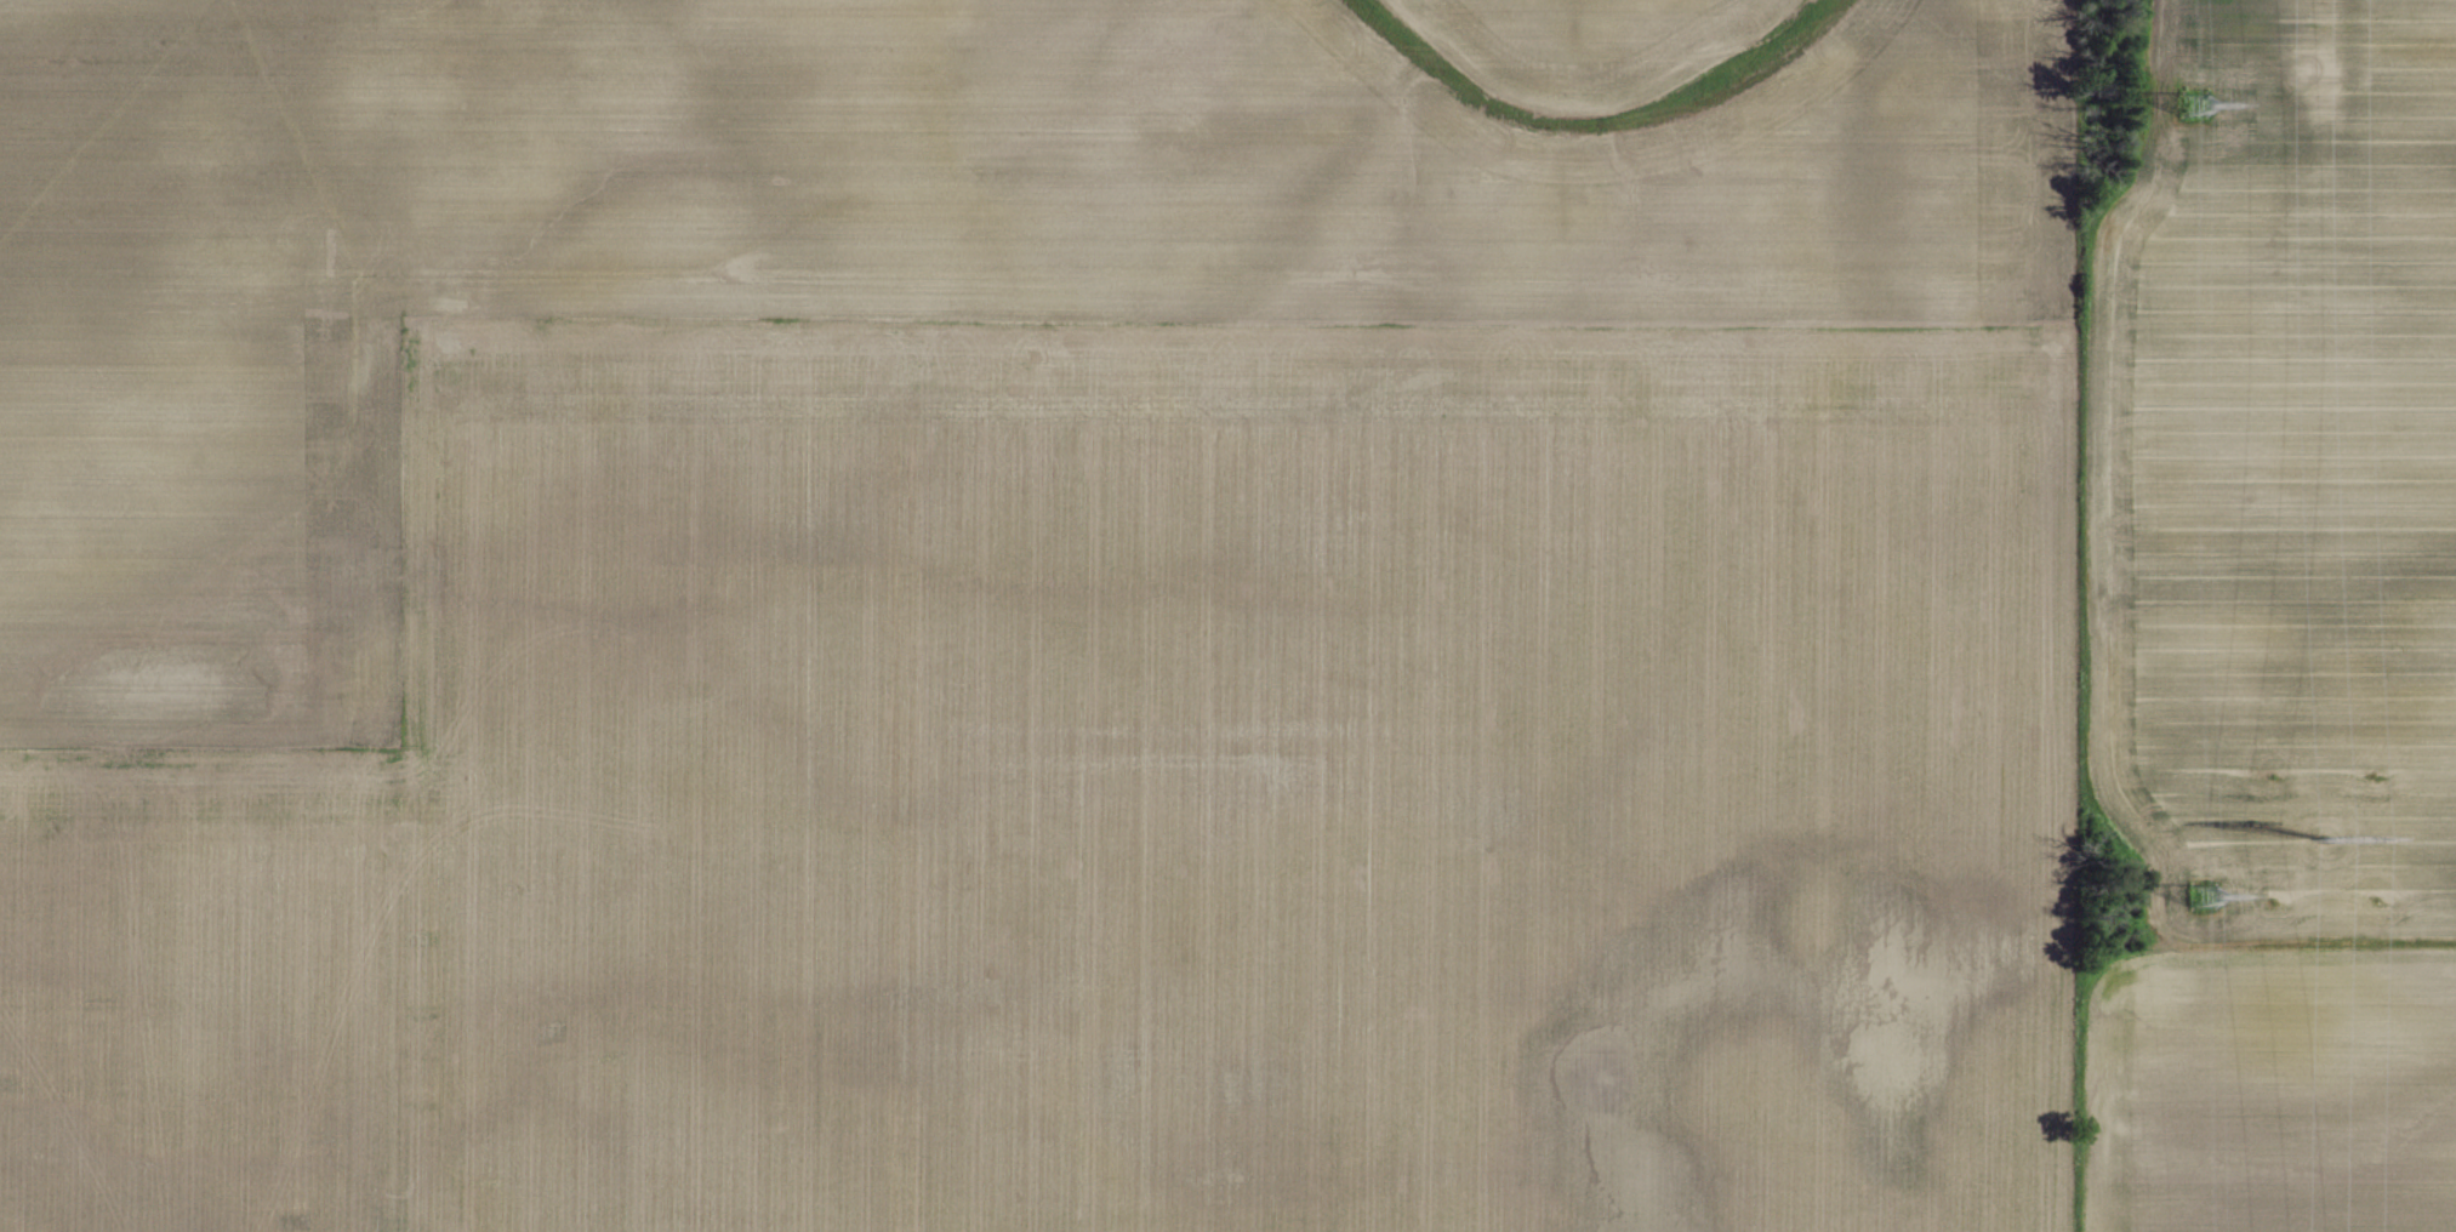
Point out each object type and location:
power tower: (2193, 103)
power tower: (2321, 837)
power tower: (2205, 892)

